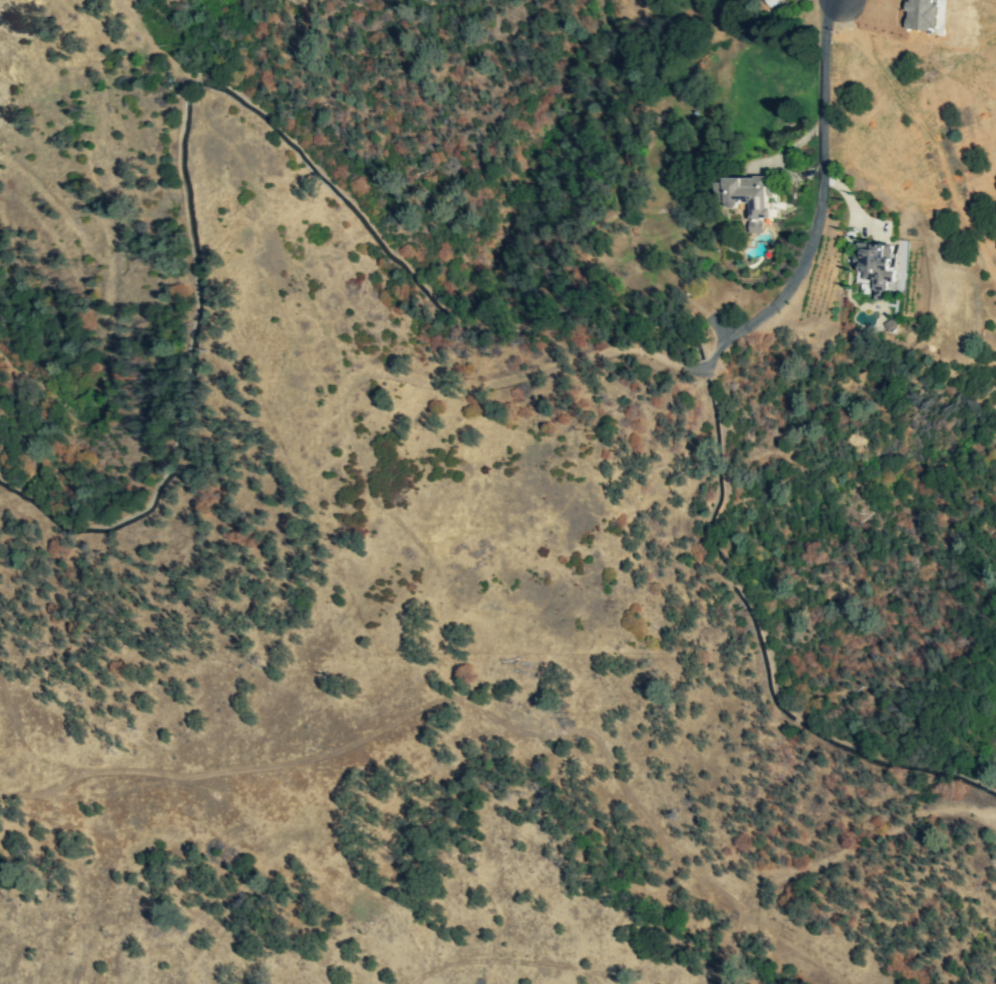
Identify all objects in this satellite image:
building: (750, 198)
road: (818, 206)
building: (876, 266)

